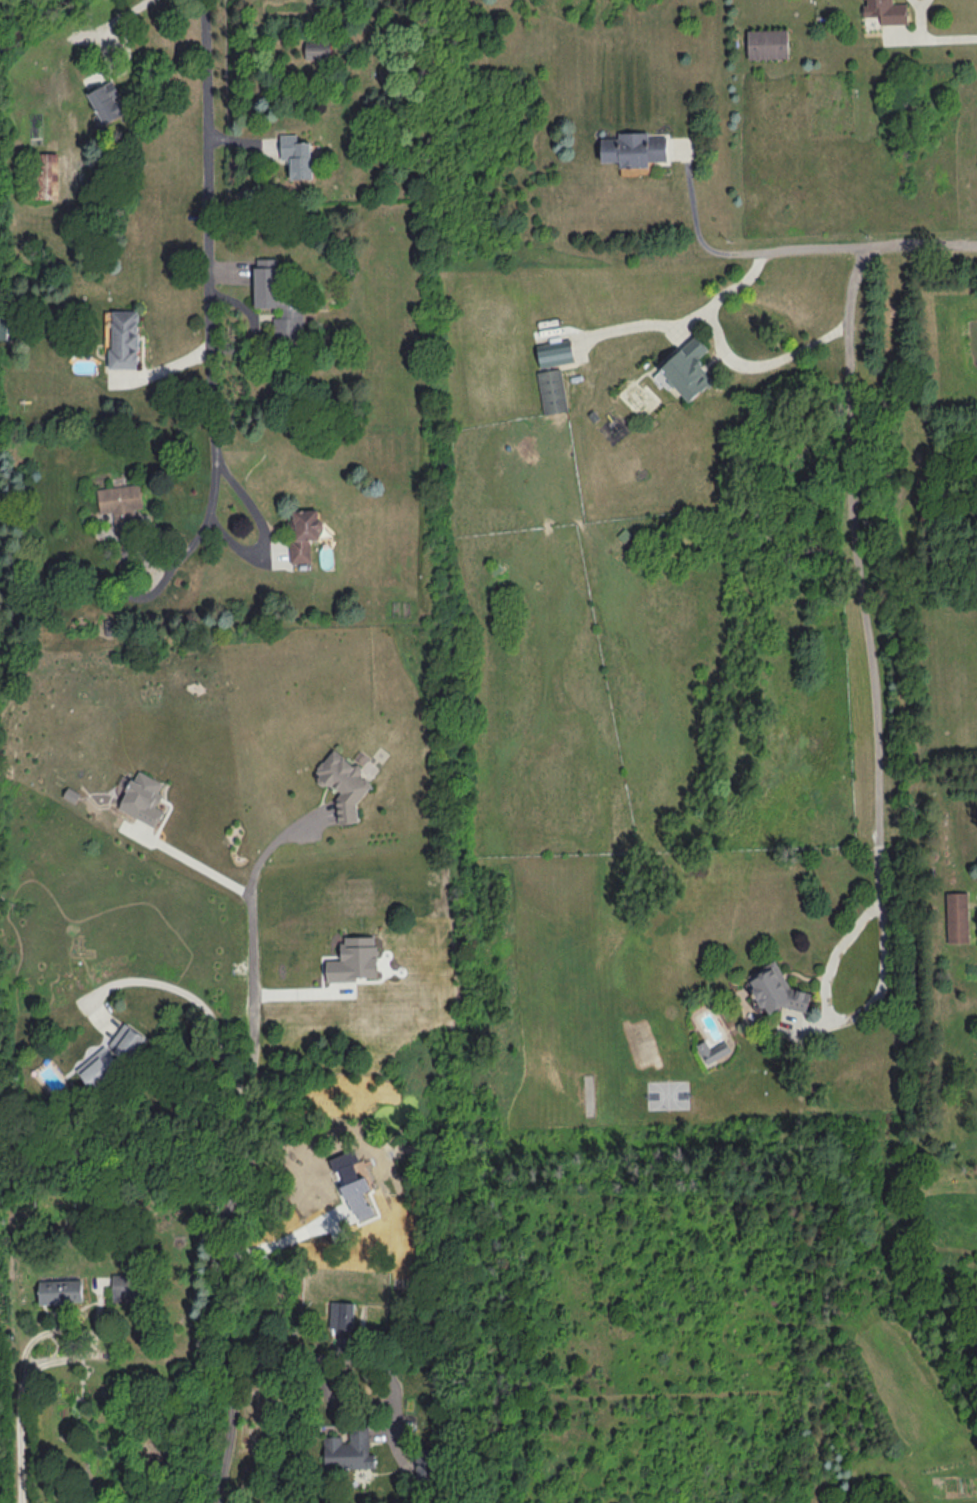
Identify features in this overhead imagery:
road: (133, 7)
building: (889, 12)
road: (940, 44)
building: (769, 45)
building: (319, 52)
road: (113, 71)
building: (110, 105)
building: (637, 150)
building: (298, 157)
building: (45, 177)
road: (743, 254)
road: (210, 258)
building: (285, 314)
building: (8, 328)
building: (125, 340)
building: (558, 356)
road: (729, 357)
building: (691, 370)
building: (554, 391)
building: (121, 498)
road: (845, 520)
road: (194, 533)
building: (305, 534)
building: (346, 786)
road: (201, 867)
building: (959, 918)
road: (247, 943)
building: (778, 991)
road: (848, 1024)
building: (713, 1050)
building: (114, 1062)
road: (247, 1182)
road: (285, 1247)
building: (127, 1288)
building: (55, 1293)
building: (343, 1315)
road: (342, 1360)
road: (22, 1405)
building: (350, 1450)

